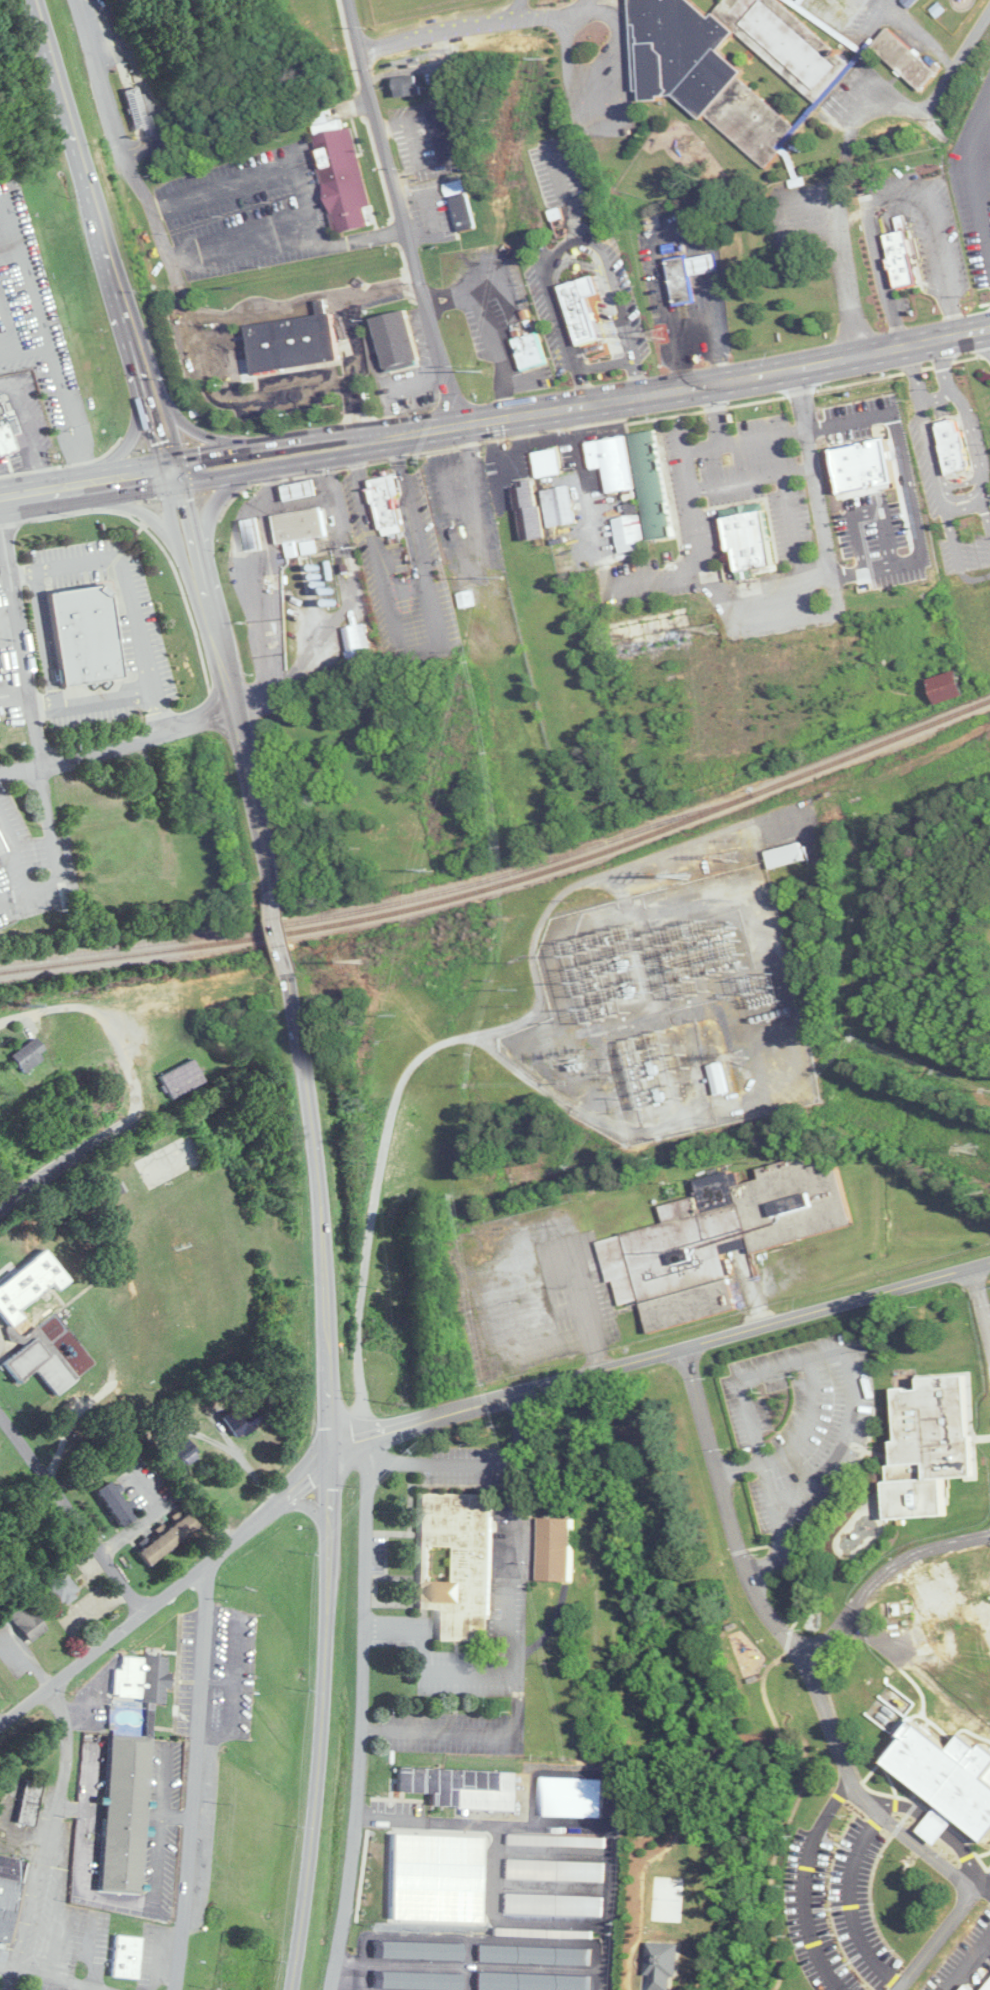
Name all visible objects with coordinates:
road: (507, 5)
road: (539, 10)
park: (315, 20)
road: (431, 29)
road: (919, 31)
power tower: (546, 52)
building: (904, 58)
building: (737, 63)
building: (412, 85)
road: (985, 90)
road: (104, 96)
road: (609, 101)
building: (139, 113)
building: (445, 135)
road: (849, 136)
building: (455, 169)
road: (252, 171)
road: (976, 172)
building: (340, 185)
building: (456, 187)
road: (887, 188)
road: (400, 212)
building: (465, 213)
road: (102, 234)
road: (287, 236)
road: (702, 236)
building: (13, 254)
building: (901, 261)
building: (703, 266)
road: (707, 266)
road: (20, 270)
building: (679, 277)
road: (383, 288)
road: (663, 288)
road: (328, 294)
road: (448, 297)
building: (580, 308)
road: (619, 309)
road: (557, 312)
road: (205, 316)
road: (8, 326)
road: (715, 326)
power tower: (658, 334)
road: (947, 335)
road: (494, 340)
building: (396, 344)
building: (296, 345)
road: (20, 350)
building: (531, 355)
road: (230, 356)
road: (805, 361)
power tower: (481, 367)
road: (8, 383)
road: (212, 386)
road: (940, 396)
building: (944, 406)
building: (56, 407)
road: (63, 413)
road: (26, 416)
road: (440, 428)
road: (799, 429)
road: (971, 431)
building: (5, 438)
road: (754, 439)
building: (952, 452)
building: (614, 462)
building: (549, 463)
building: (878, 463)
traffic signals: (172, 469)
road: (41, 471)
road: (935, 473)
road: (752, 478)
road: (585, 479)
parking lot: (762, 479)
road: (85, 483)
building: (655, 486)
road: (817, 488)
building: (303, 492)
road: (482, 503)
road: (963, 506)
building: (561, 507)
building: (390, 510)
building: (531, 514)
building: (302, 528)
building: (880, 529)
road: (793, 530)
building: (632, 531)
road: (699, 535)
building: (258, 537)
building: (752, 537)
road: (4, 563)
road: (22, 571)
power tower: (503, 575)
road: (125, 580)
building: (469, 600)
power tower: (714, 626)
building: (654, 634)
road: (44, 637)
building: (83, 638)
building: (360, 645)
building: (0, 673)
road: (227, 678)
building: (955, 688)
road: (15, 694)
road: (104, 697)
road: (43, 707)
road: (160, 711)
road: (34, 724)
road: (139, 741)
road: (21, 772)
building: (2, 850)
building: (788, 856)
power tower: (733, 858)
power tower: (428, 864)
road: (20, 869)
power tower: (686, 875)
railway: (507, 883)
railway: (374, 907)
road: (282, 931)
power tower: (516, 987)
power substation: (671, 1012)
road: (105, 1013)
power tower: (388, 1014)
road: (4, 1016)
road: (478, 1035)
building: (30, 1054)
power tower: (741, 1057)
building: (183, 1078)
building: (720, 1079)
power tower: (980, 1149)
road: (72, 1156)
building: (723, 1238)
road: (980, 1311)
building: (33, 1324)
road: (659, 1355)
road: (848, 1368)
building: (243, 1420)
road: (795, 1438)
building: (933, 1446)
building: (186, 1451)
road: (243, 1457)
road: (443, 1461)
road: (330, 1481)
building: (115, 1503)
road: (307, 1507)
road: (153, 1515)
road: (73, 1516)
building: (170, 1538)
building: (560, 1549)
building: (458, 1563)
road: (882, 1577)
building: (62, 1588)
road: (169, 1594)
building: (27, 1619)
road: (464, 1629)
road: (503, 1629)
road: (393, 1630)
road: (427, 1630)
road: (512, 1638)
road: (790, 1643)
road: (448, 1673)
building: (143, 1677)
building: (954, 1709)
road: (364, 1714)
road: (192, 1775)
road: (163, 1777)
building: (462, 1787)
building: (573, 1797)
building: (31, 1802)
road: (66, 1804)
building: (114, 1810)
road: (175, 1814)
road: (41, 1837)
building: (556, 1841)
road: (78, 1851)
road: (158, 1857)
building: (555, 1870)
building: (430, 1882)
road: (805, 1883)
road: (984, 1890)
building: (9, 1893)
building: (554, 1904)
road: (850, 1904)
building: (545, 1933)
road: (938, 1938)
building: (422, 1950)
building: (535, 1955)
building: (127, 1957)
road: (969, 1963)
road: (53, 1977)
building: (422, 1981)
building: (533, 1982)
road: (102, 1989)

